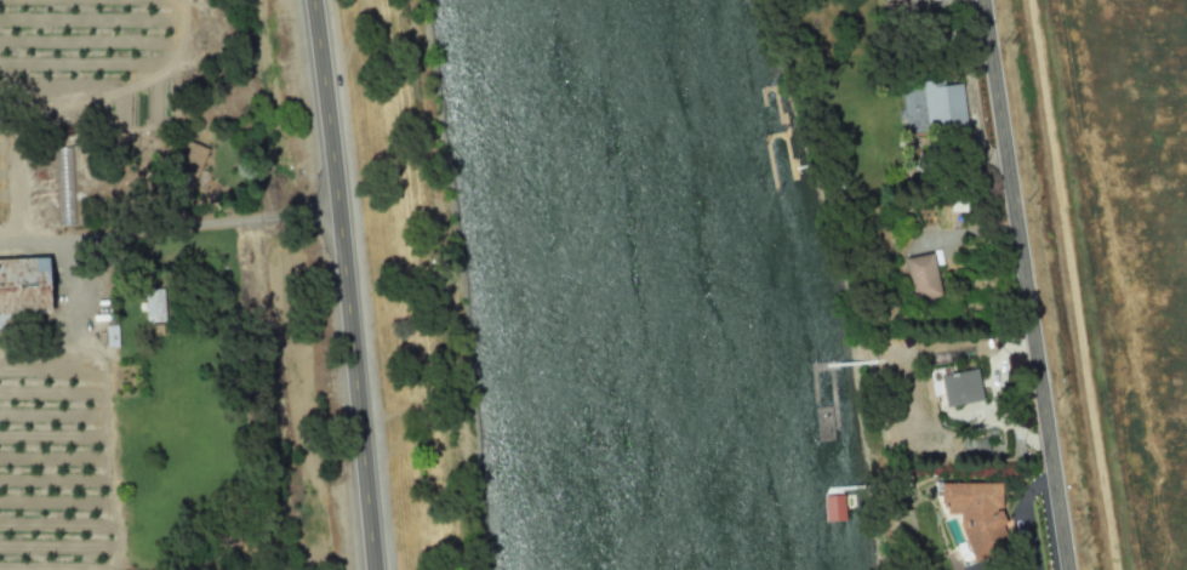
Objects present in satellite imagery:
building: (909, 5)
crop: (73, 46)
building: (942, 103)
building: (188, 163)
building: (64, 184)
road: (176, 226)
building: (921, 275)
road: (346, 284)
river: (633, 285)
road: (1027, 285)
building: (23, 287)
building: (154, 304)
building: (110, 335)
building: (958, 387)
crop: (177, 420)
building: (832, 507)
building: (976, 514)

